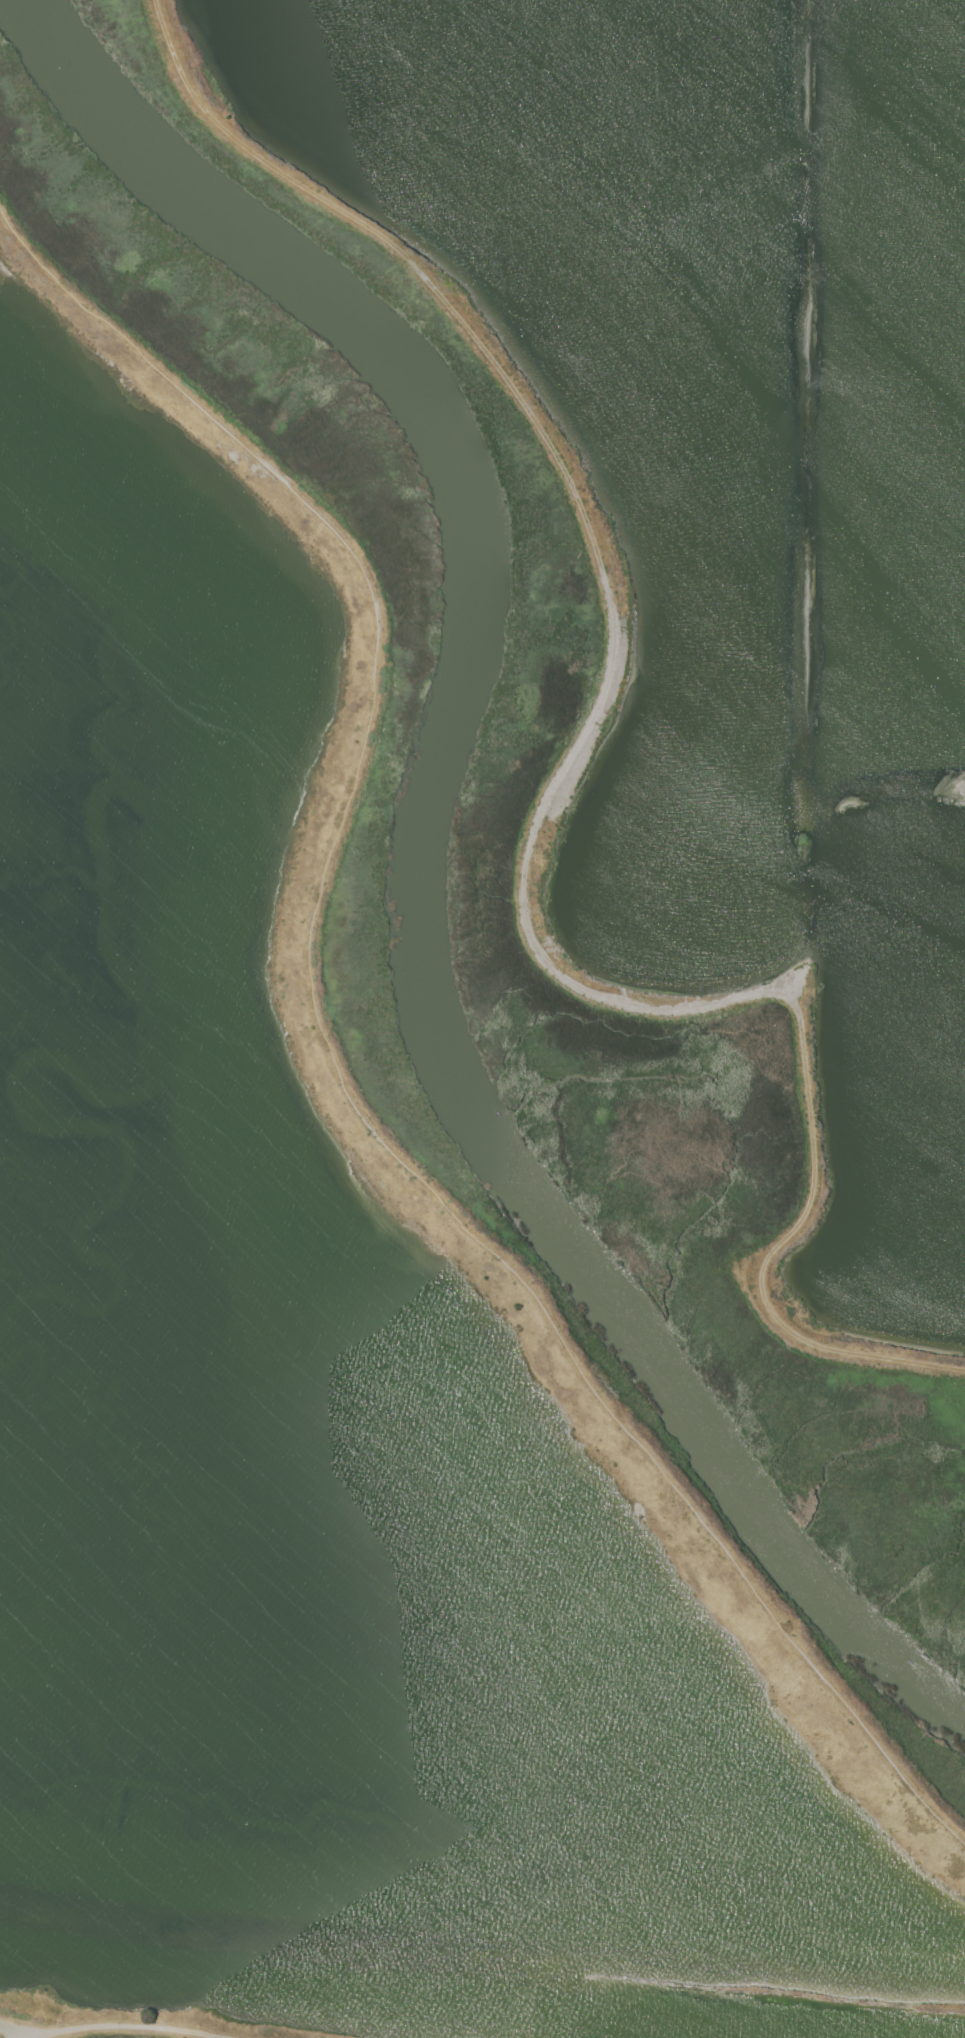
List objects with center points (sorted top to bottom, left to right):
road: (549, 792)
river: (419, 867)
road: (329, 1053)
road: (122, 2027)
road: (12, 2029)

